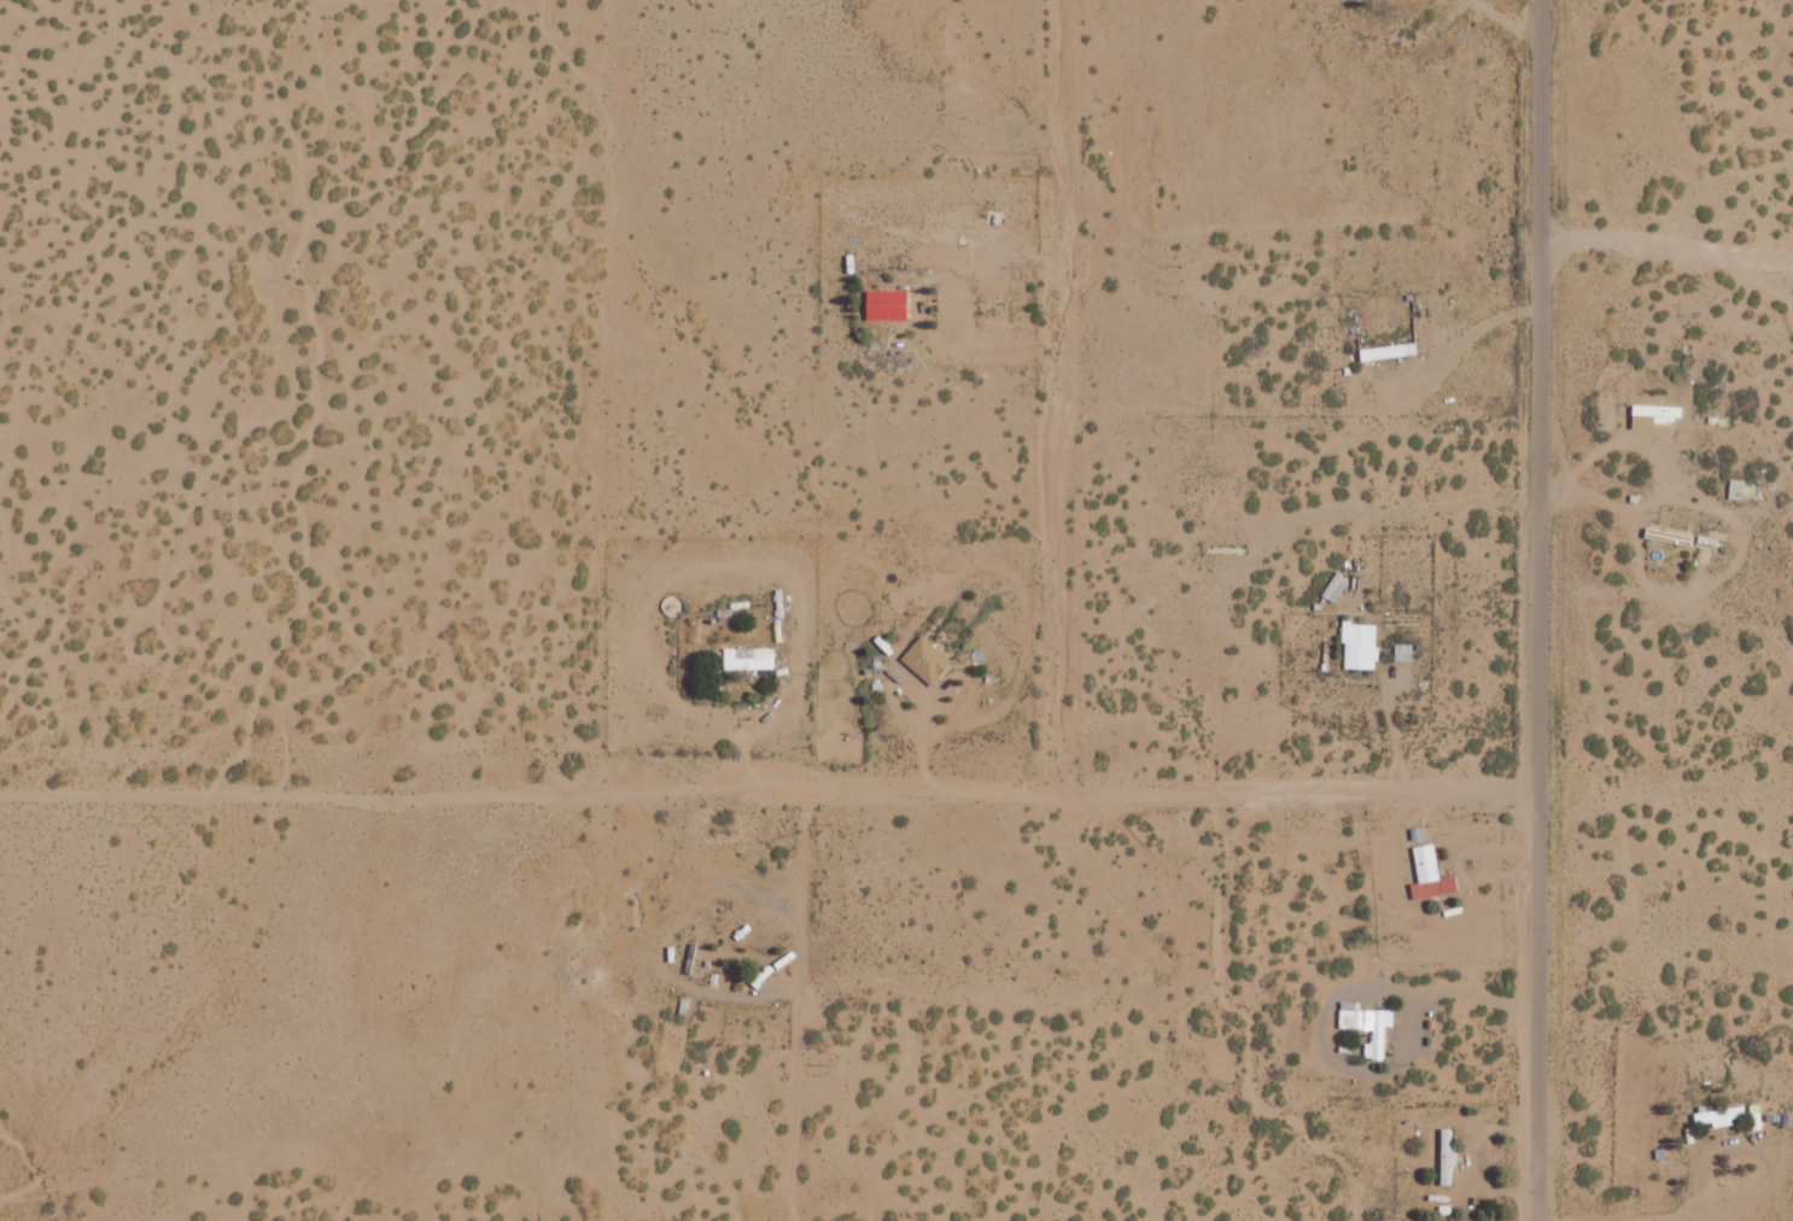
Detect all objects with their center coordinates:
road: (1666, 250)
building: (887, 304)
building: (1388, 351)
road: (1056, 393)
building: (1658, 413)
building: (1735, 489)
road: (1535, 609)
building: (1361, 645)
building: (749, 658)
building: (927, 659)
road: (766, 784)
building: (1430, 874)
road: (800, 1003)
building: (1367, 1024)

